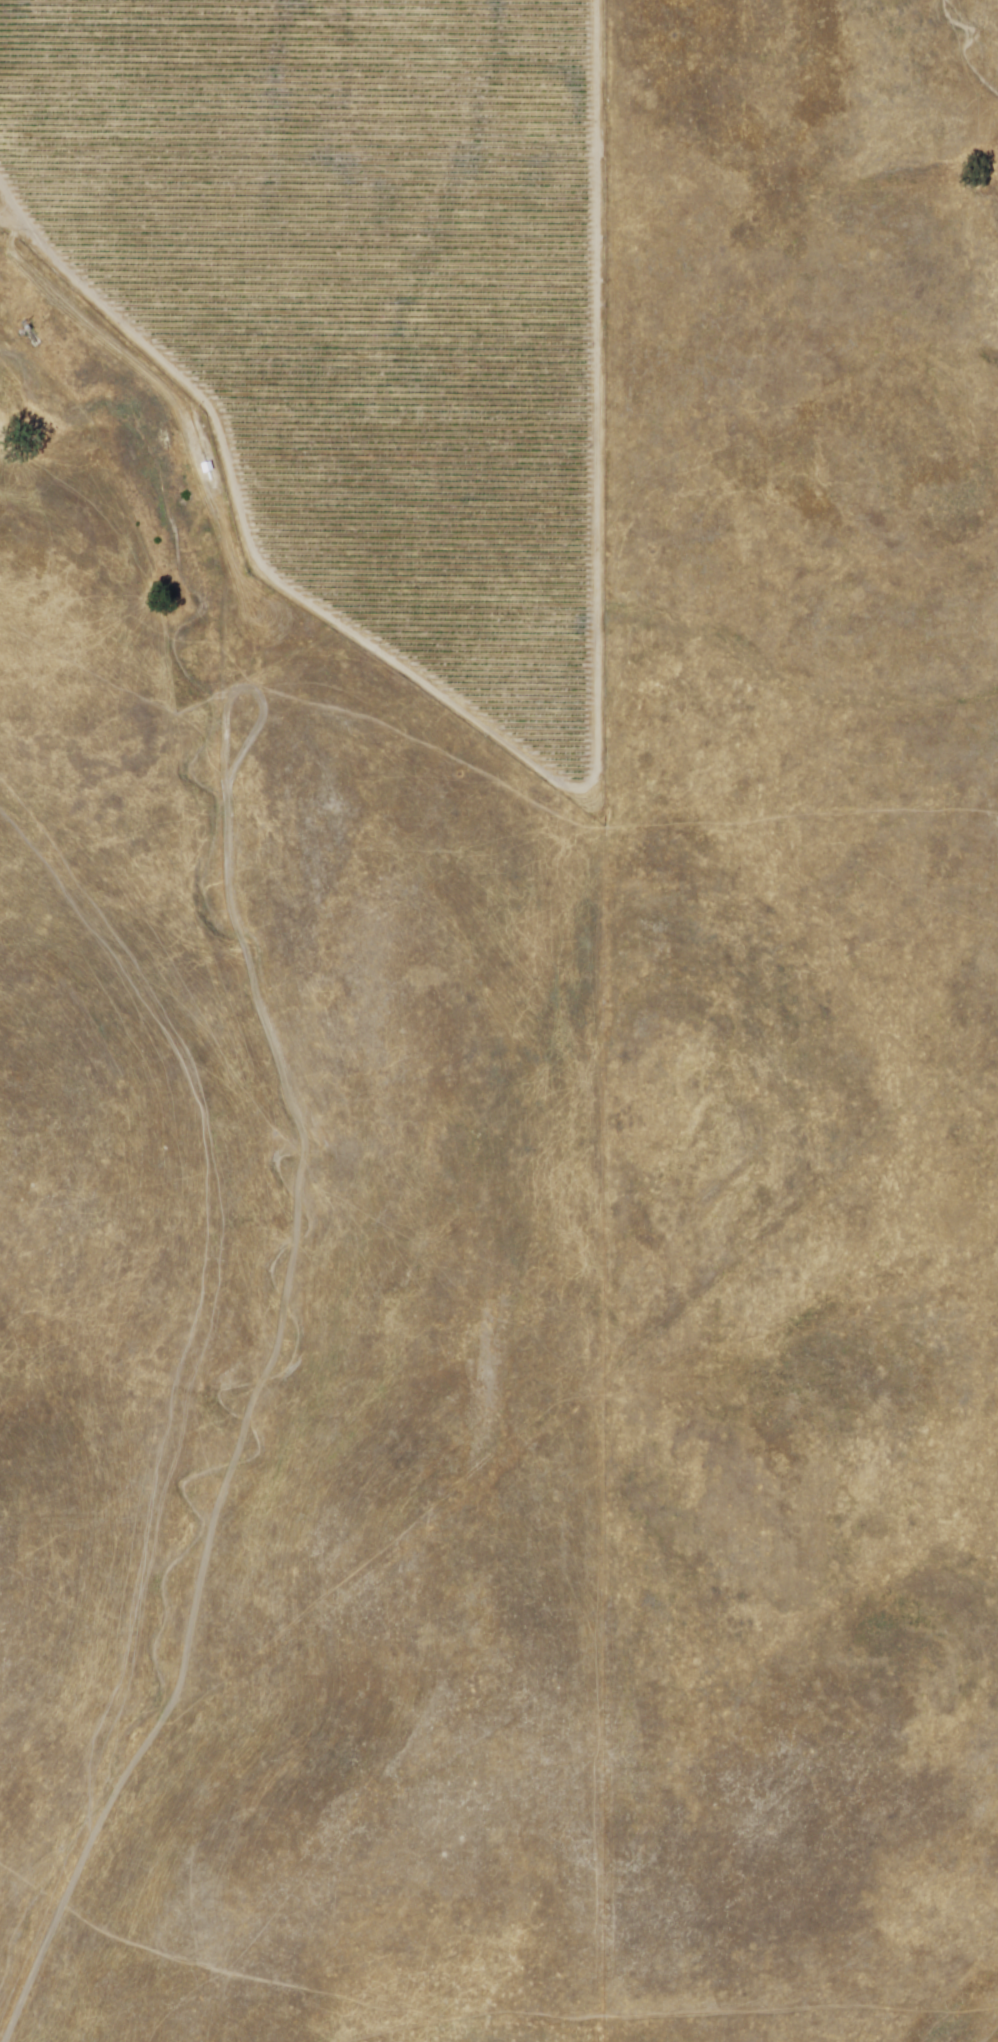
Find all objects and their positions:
road: (12, 227)
road: (548, 780)
road: (300, 1124)
road: (990, 2032)

